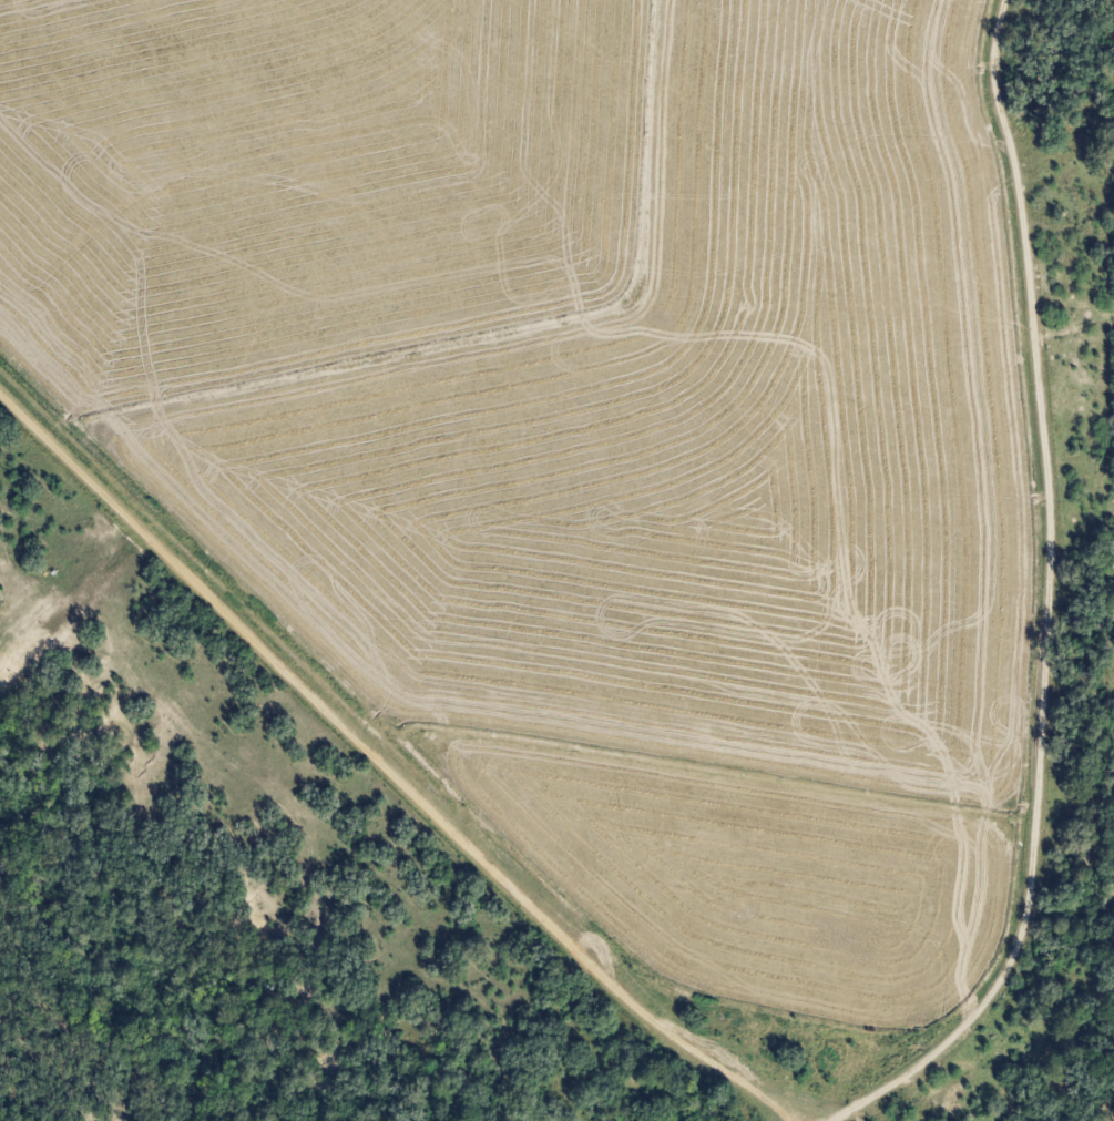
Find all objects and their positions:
road: (1093, 612)
road: (385, 740)

